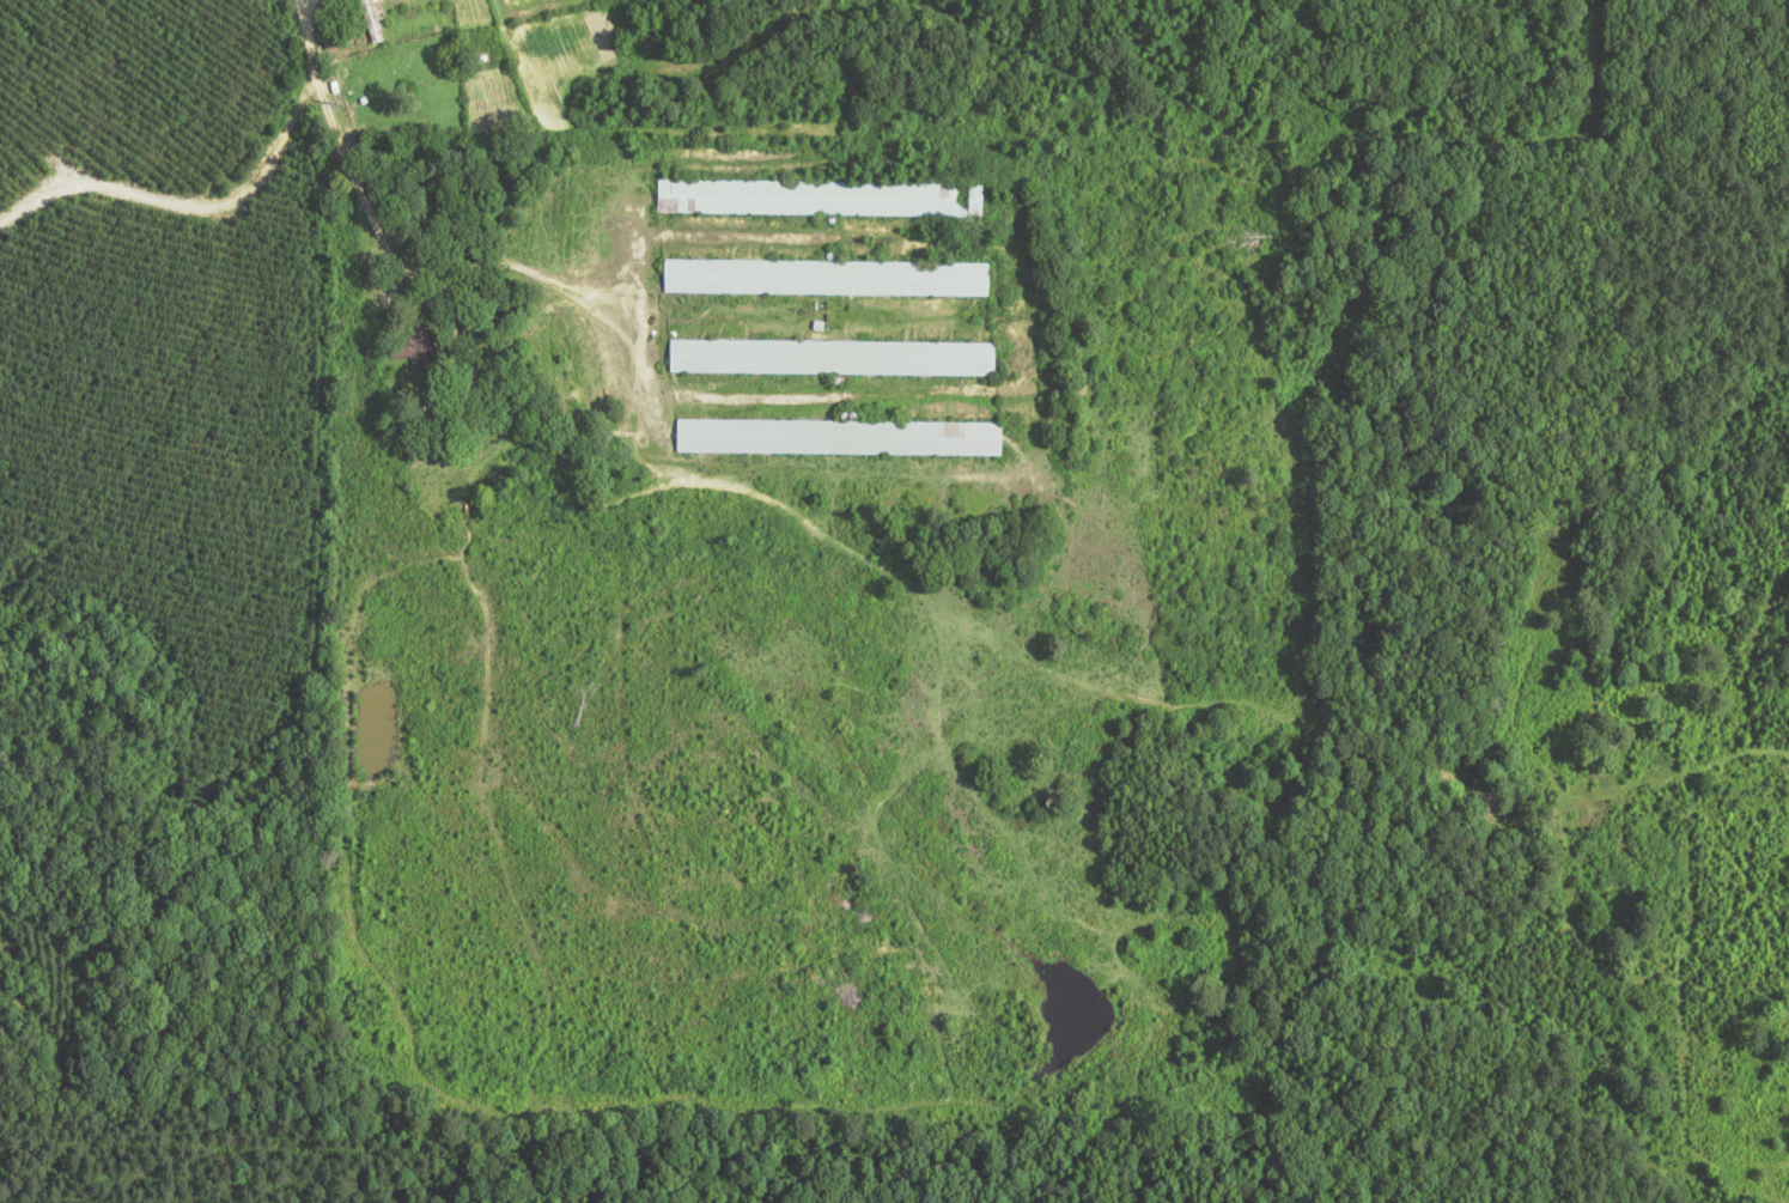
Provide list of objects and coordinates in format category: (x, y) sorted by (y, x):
building: (402, 4)
building: (371, 23)
building: (823, 202)
building: (828, 281)
building: (426, 353)
building: (835, 361)
building: (841, 442)

